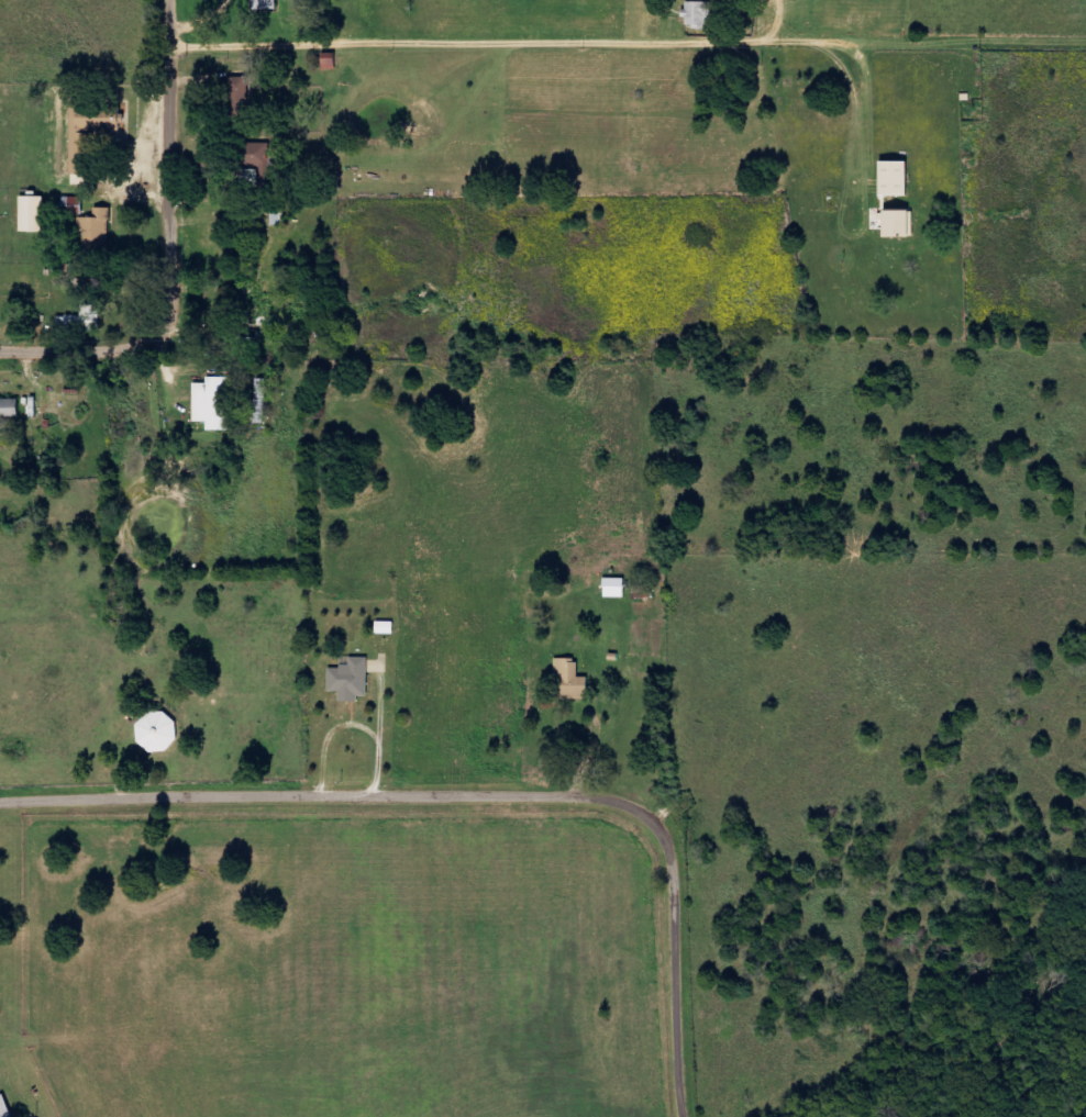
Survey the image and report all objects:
building: (265, 4)
building: (699, 14)
road: (632, 53)
building: (330, 62)
road: (318, 91)
building: (239, 93)
building: (96, 121)
building: (256, 154)
building: (894, 178)
building: (71, 205)
building: (32, 213)
building: (897, 223)
building: (97, 230)
road: (178, 250)
building: (85, 319)
building: (213, 403)
building: (9, 407)
building: (614, 588)
building: (385, 627)
building: (351, 680)
building: (572, 680)
building: (158, 733)
road: (484, 795)
building: (4, 1107)

